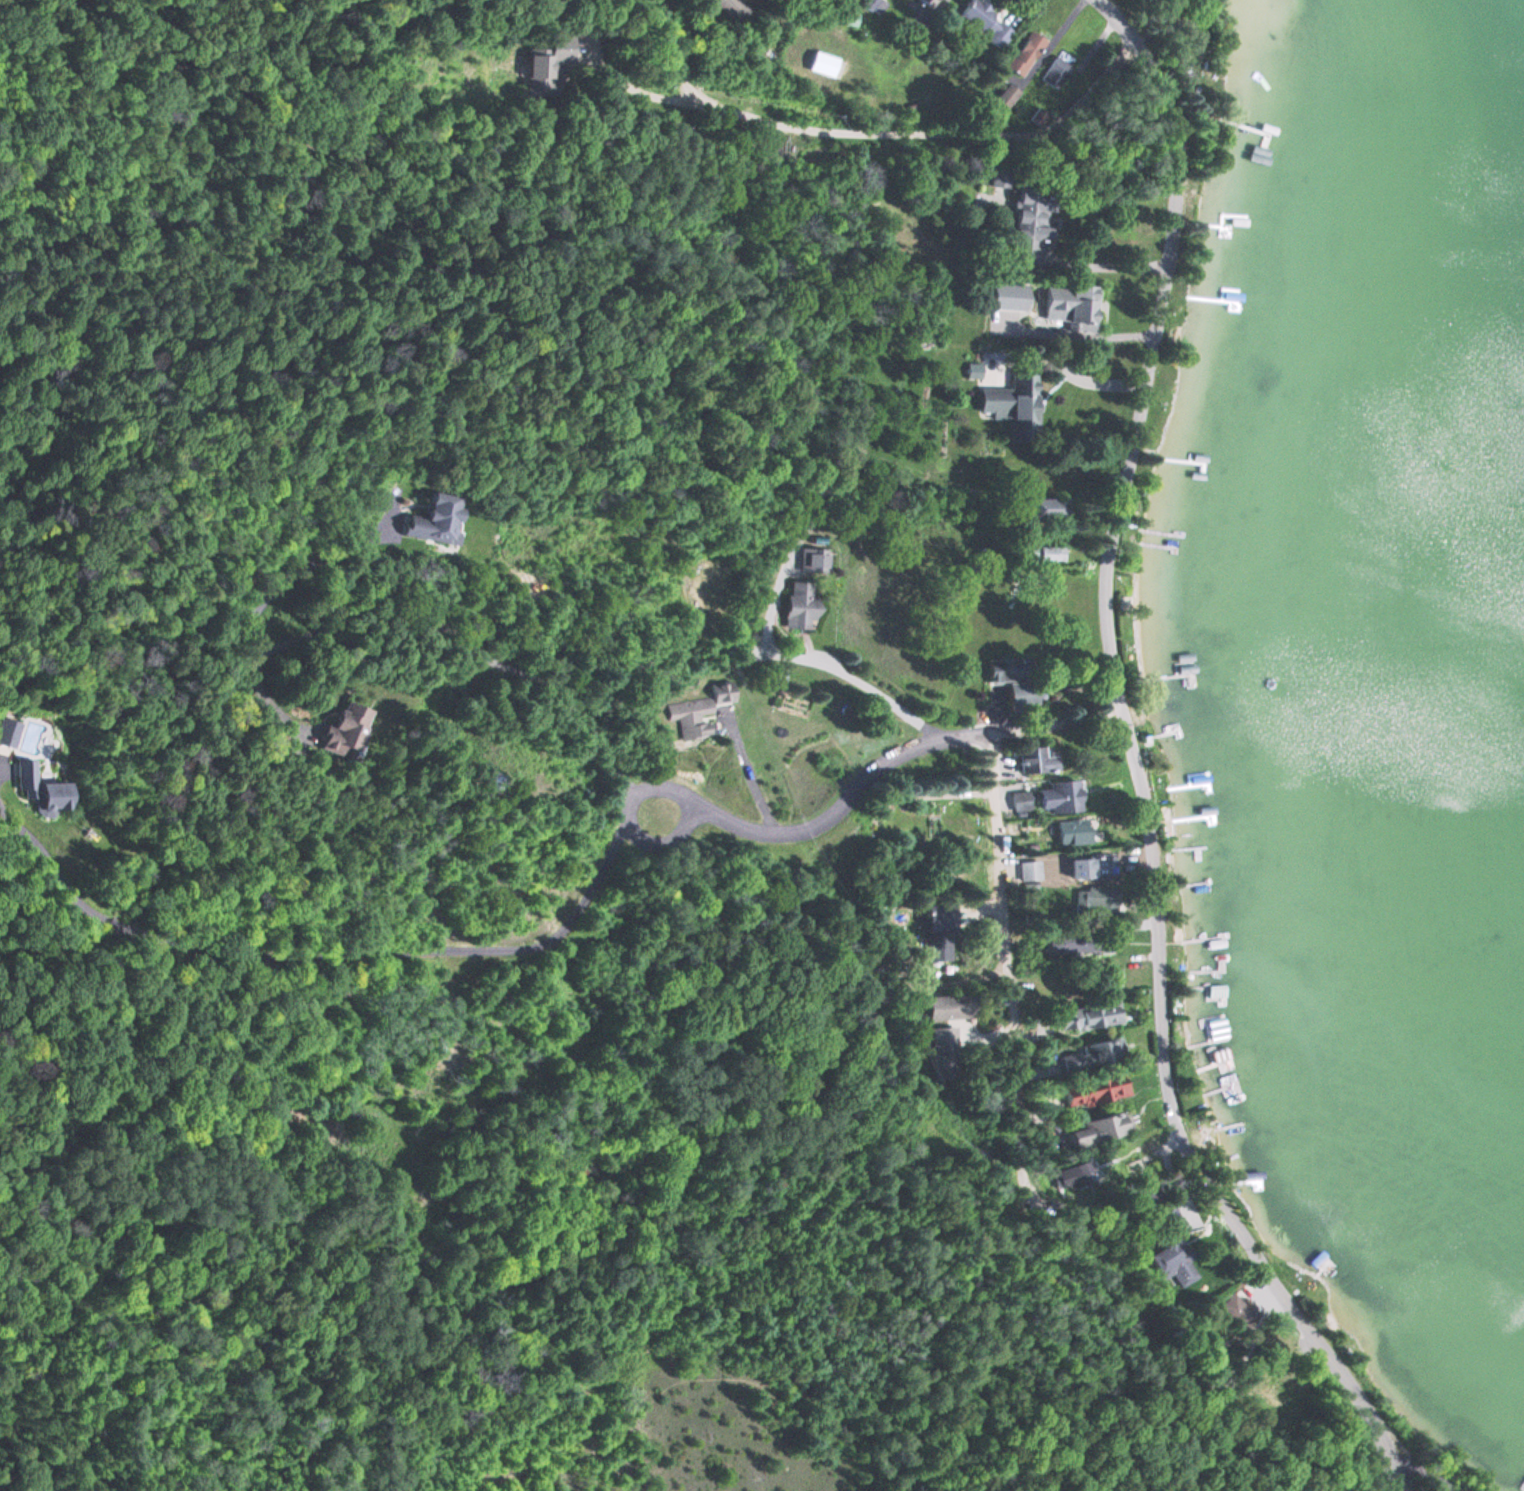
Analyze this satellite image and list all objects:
building: (927, 3)
building: (732, 9)
building: (848, 21)
building: (983, 22)
building: (1024, 53)
building: (547, 65)
building: (824, 65)
building: (1056, 69)
building: (1003, 98)
building: (998, 179)
building: (1030, 223)
building: (1074, 304)
building: (1013, 403)
building: (1051, 510)
building: (436, 520)
building: (1048, 554)
building: (813, 561)
building: (1043, 598)
building: (800, 607)
building: (1013, 681)
building: (698, 710)
road: (1045, 721)
building: (347, 729)
building: (8, 732)
building: (1035, 761)
road: (1136, 762)
building: (41, 790)
building: (1059, 795)
road: (836, 805)
road: (624, 824)
building: (1074, 831)
building: (1094, 867)
building: (1027, 868)
building: (1095, 899)
road: (1004, 911)
building: (942, 931)
building: (1078, 943)
building: (1108, 979)
building: (947, 1007)
building: (1089, 1015)
building: (943, 1053)
building: (1090, 1056)
building: (1095, 1090)
building: (1099, 1130)
road: (472, 1147)
building: (1172, 1263)
building: (1321, 1264)
building: (1235, 1311)
road: (869, 1397)
road: (141, 1425)
road: (530, 1471)
road: (20, 1474)
building: (1522, 1487)

